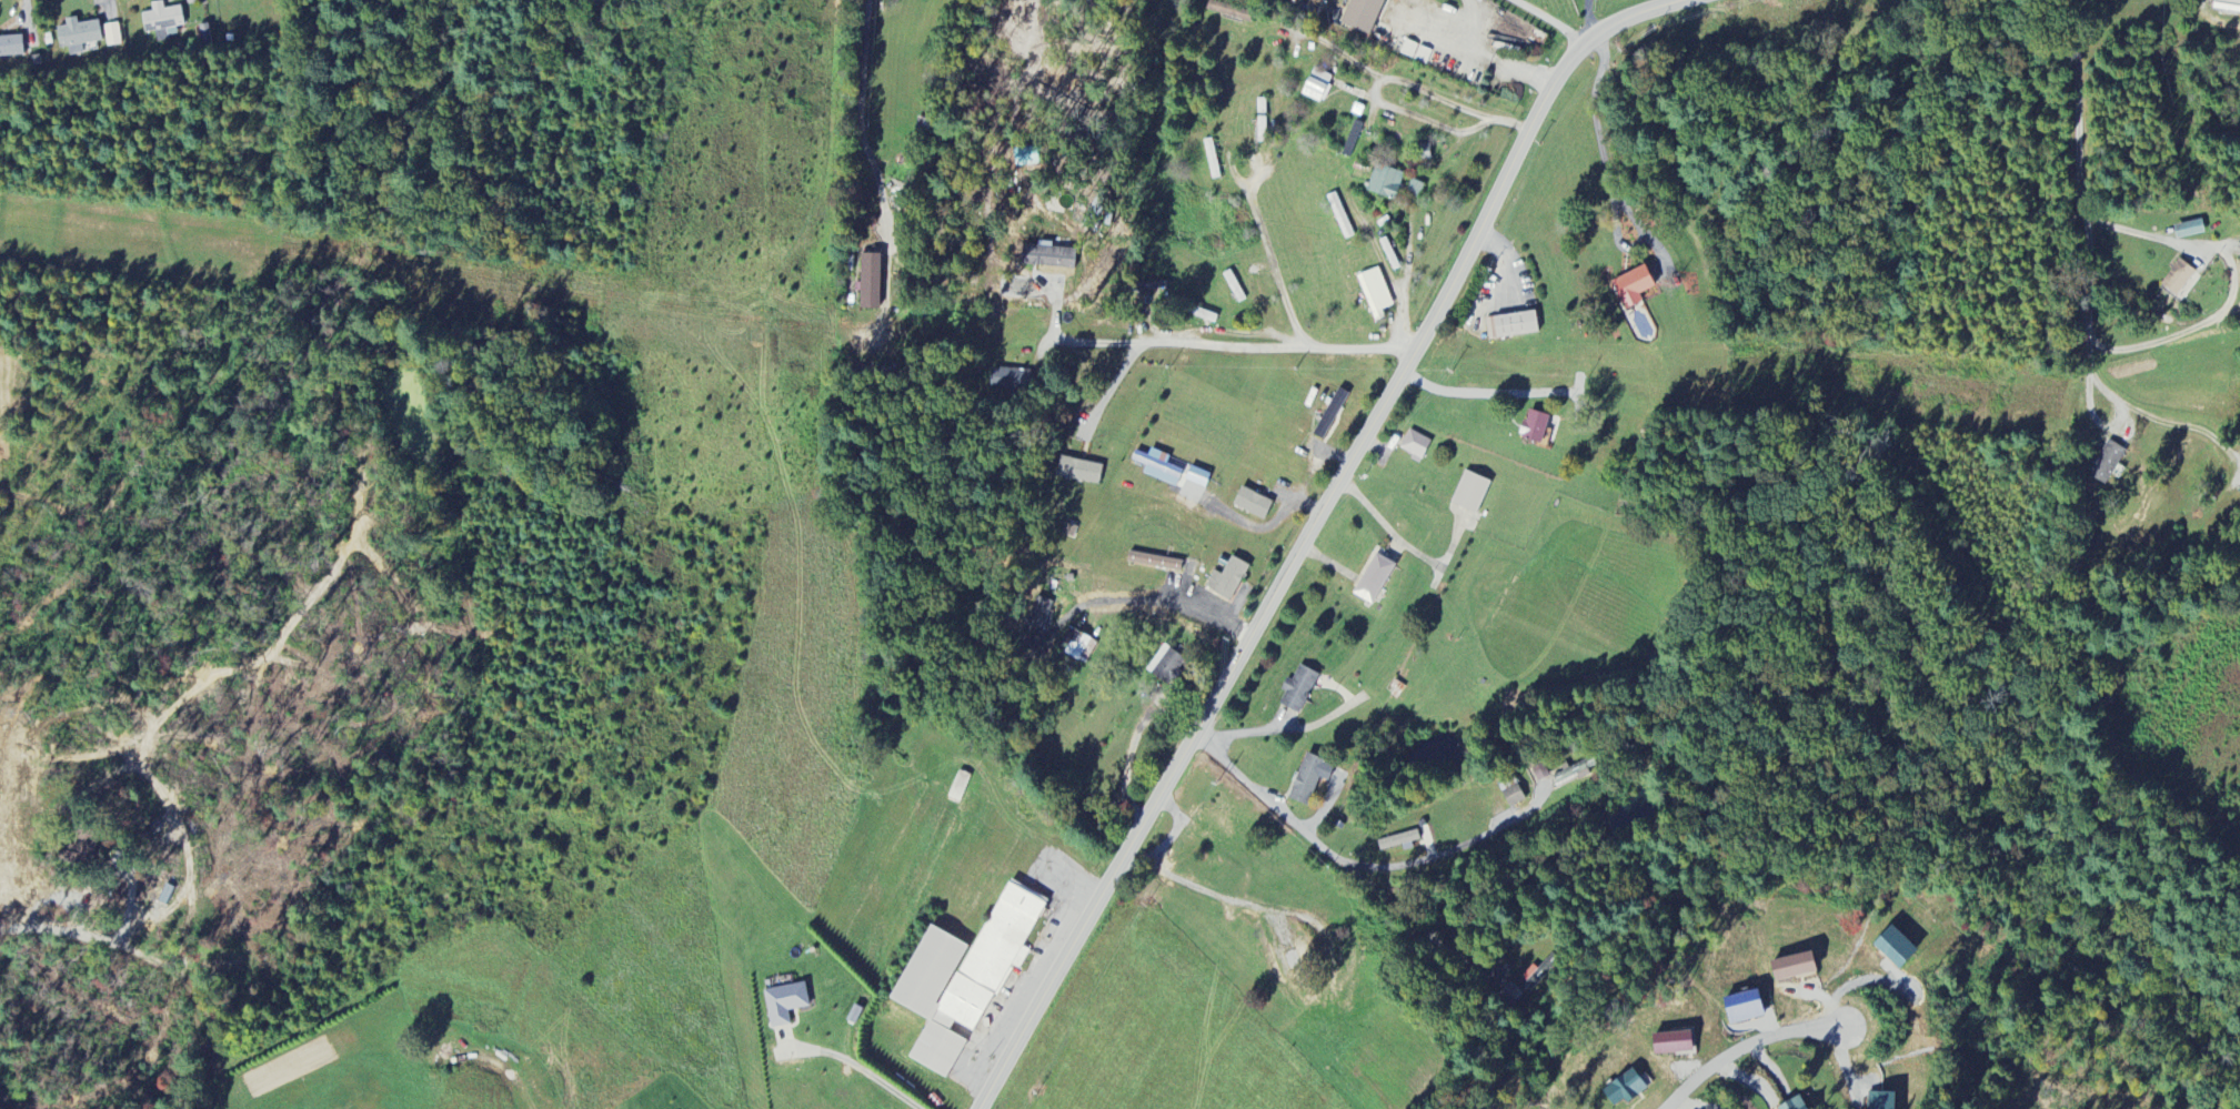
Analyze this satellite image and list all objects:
building: (2228, 2)
building: (1363, 16)
road: (1588, 18)
road: (1550, 20)
building: (162, 21)
road: (2227, 23)
building: (77, 36)
building: (112, 36)
building: (10, 48)
road: (1490, 60)
road: (856, 74)
building: (1317, 87)
road: (1417, 89)
road: (1416, 117)
building: (1352, 140)
building: (1423, 152)
road: (2075, 167)
building: (1385, 183)
building: (1415, 190)
building: (2189, 230)
building: (1047, 258)
road: (1274, 269)
building: (2180, 281)
building: (870, 283)
building: (1633, 289)
building: (1375, 294)
road: (1404, 294)
building: (1511, 326)
road: (2140, 342)
road: (1227, 349)
building: (1005, 379)
road: (1453, 391)
road: (2146, 413)
building: (1330, 414)
building: (1537, 427)
building: (1415, 445)
building: (2107, 463)
building: (1157, 467)
building: (1078, 471)
building: (1470, 493)
building: (1252, 504)
road: (1264, 527)
road: (1310, 531)
road: (1402, 545)
building: (1154, 562)
building: (1227, 579)
building: (1374, 579)
road: (1223, 609)
building: (1039, 614)
building: (1074, 645)
building: (1166, 666)
building: (1298, 690)
building: (1540, 772)
building: (1573, 774)
building: (1308, 780)
building: (958, 788)
building: (1510, 793)
building: (1400, 841)
building: (74, 853)
road: (1436, 855)
road: (1340, 868)
road: (58, 899)
road: (89, 938)
building: (1895, 947)
building: (1794, 966)
building: (965, 976)
building: (1511, 994)
building: (784, 1004)
building: (1744, 1007)
building: (1673, 1042)
road: (1741, 1044)
road: (861, 1067)
building: (1625, 1089)
building: (1881, 1100)
building: (1795, 1103)

